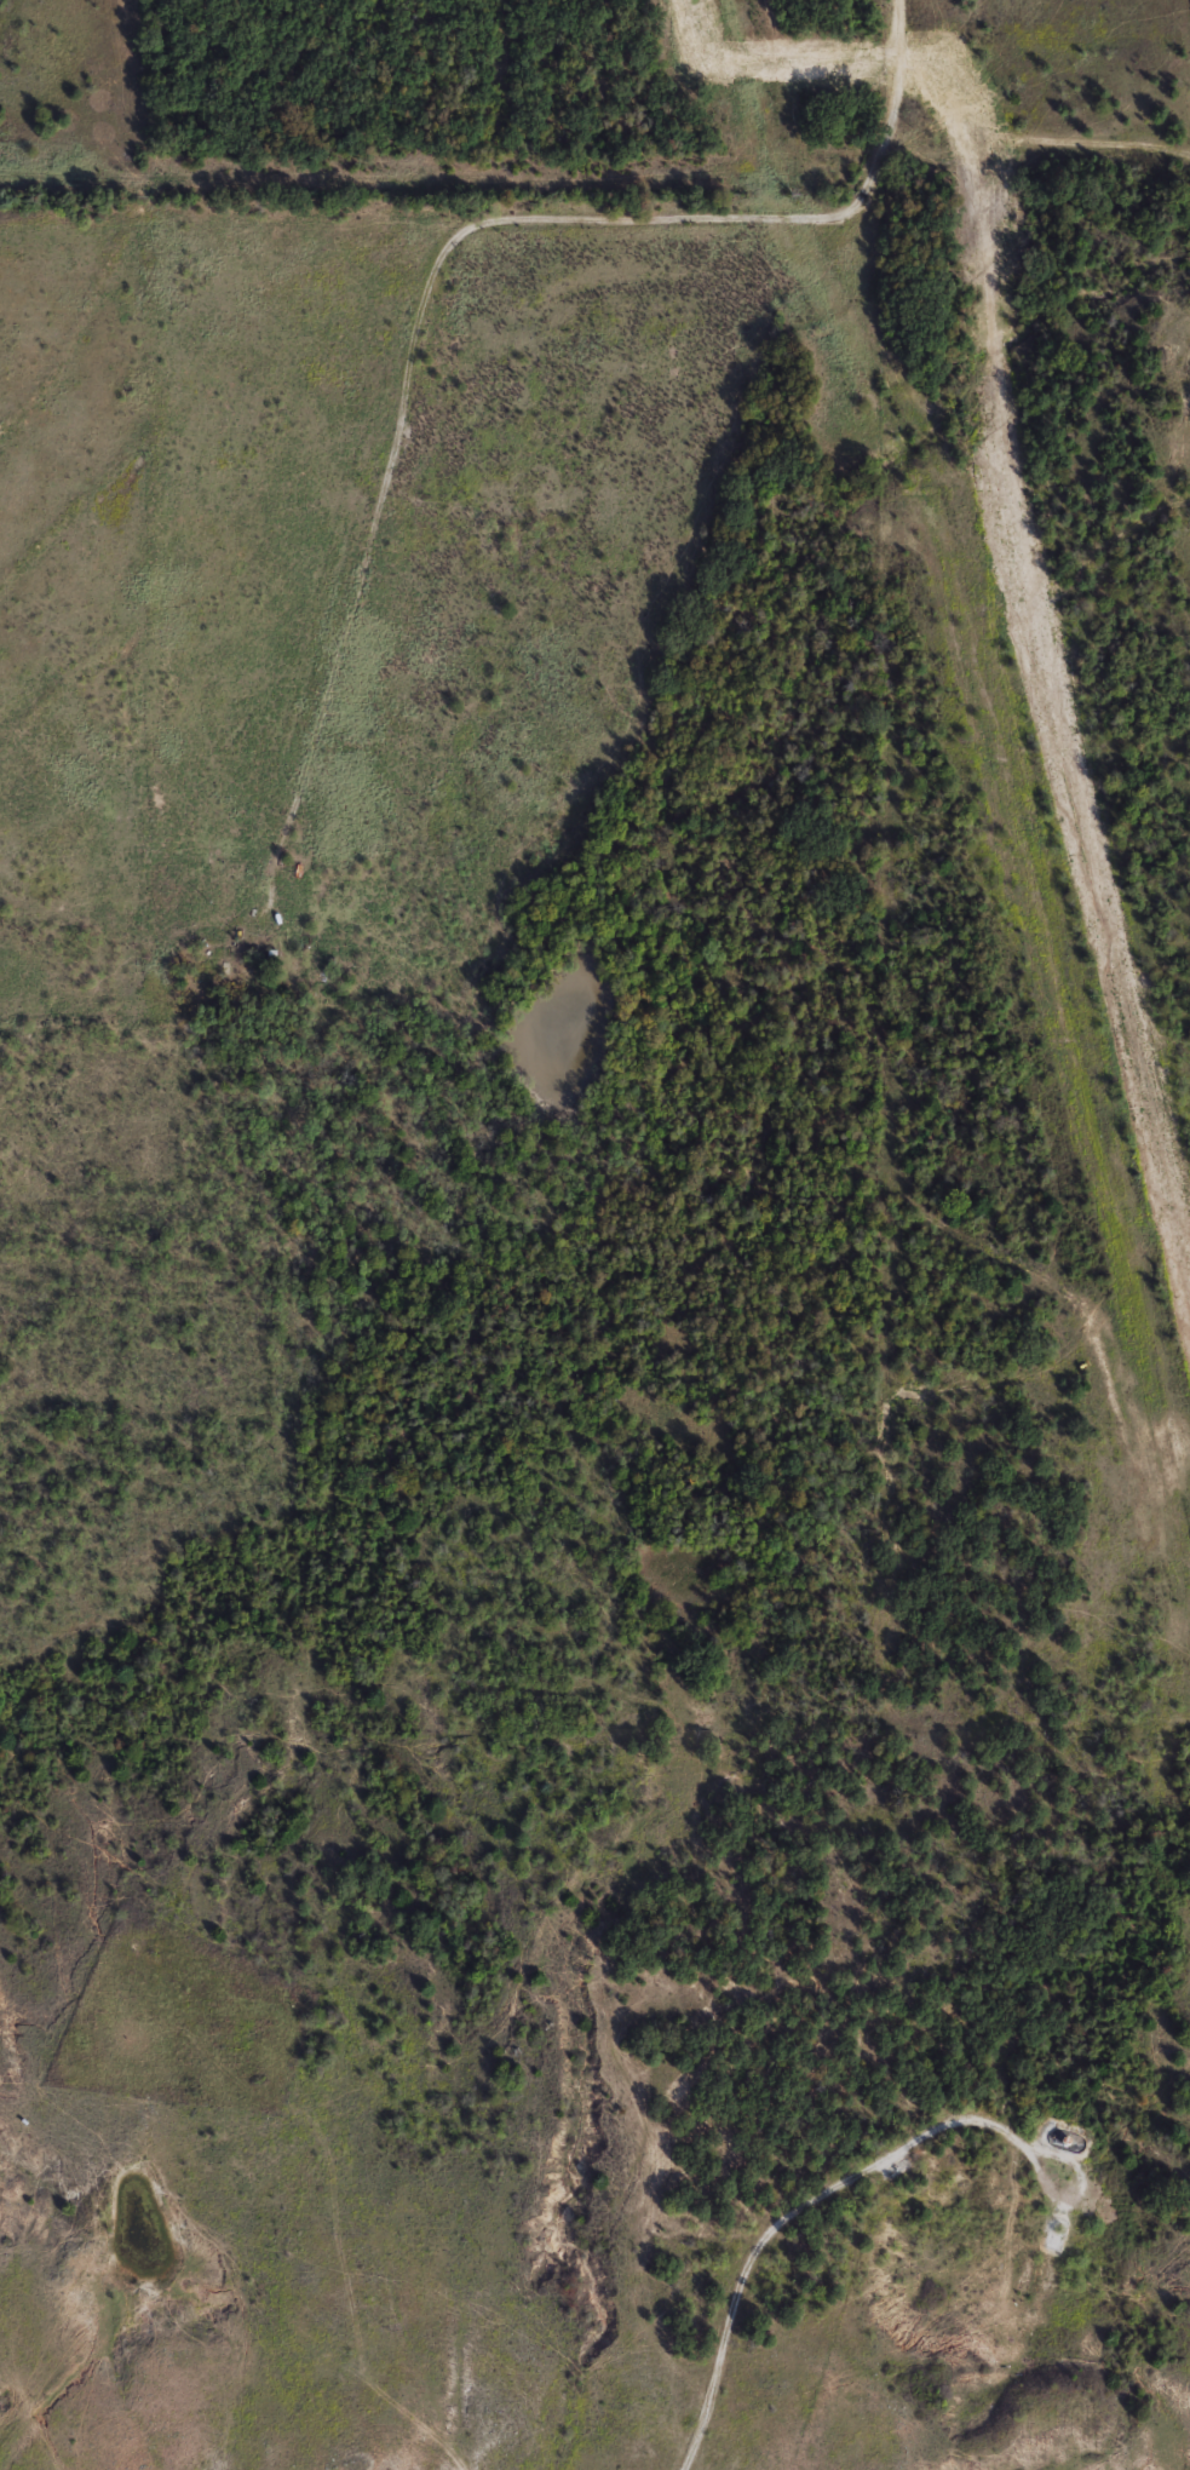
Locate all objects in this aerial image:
road: (114, 138)
road: (1079, 2195)
road: (784, 2218)

